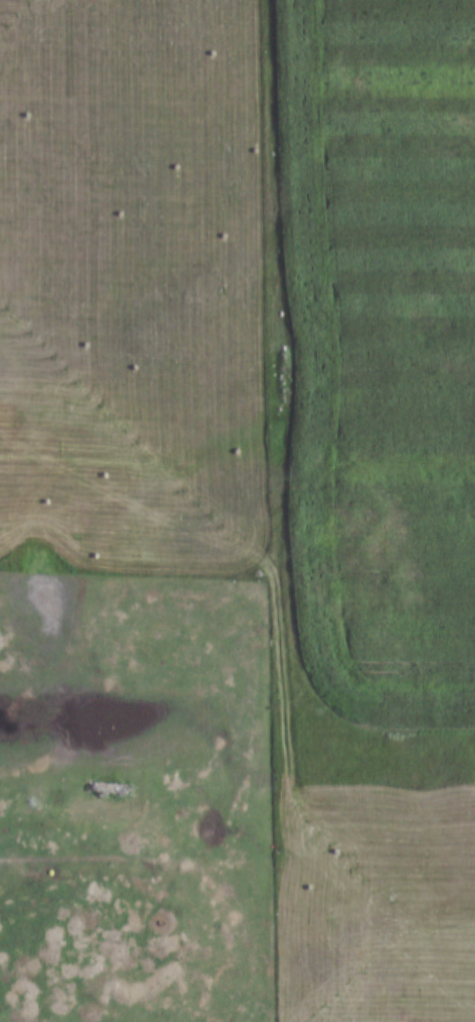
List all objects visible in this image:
road: (284, 649)
road: (381, 748)
road: (196, 865)

